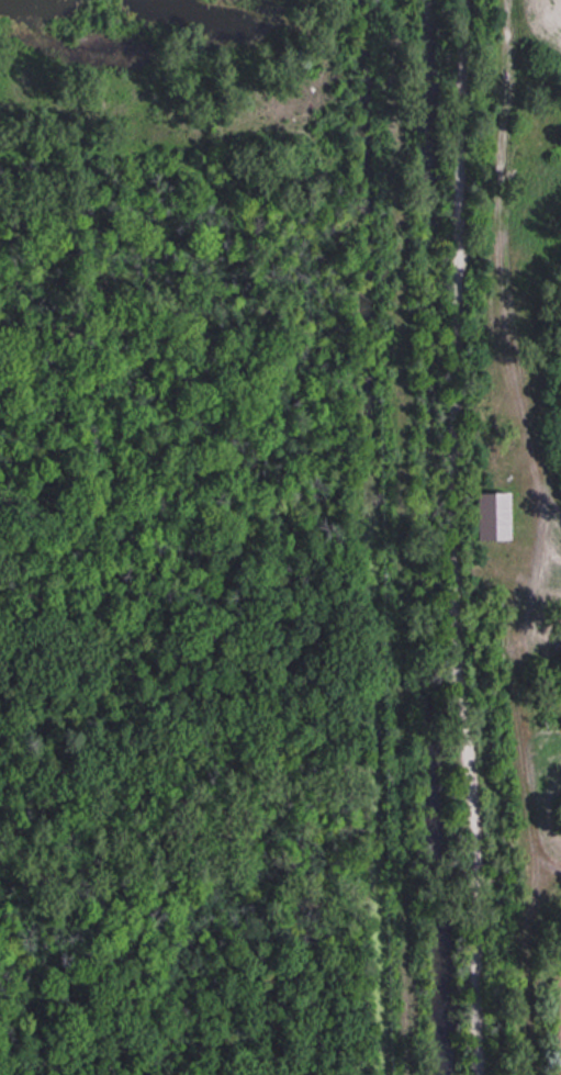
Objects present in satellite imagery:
building: (498, 517)
park: (195, 531)
road: (401, 537)
road: (457, 537)

